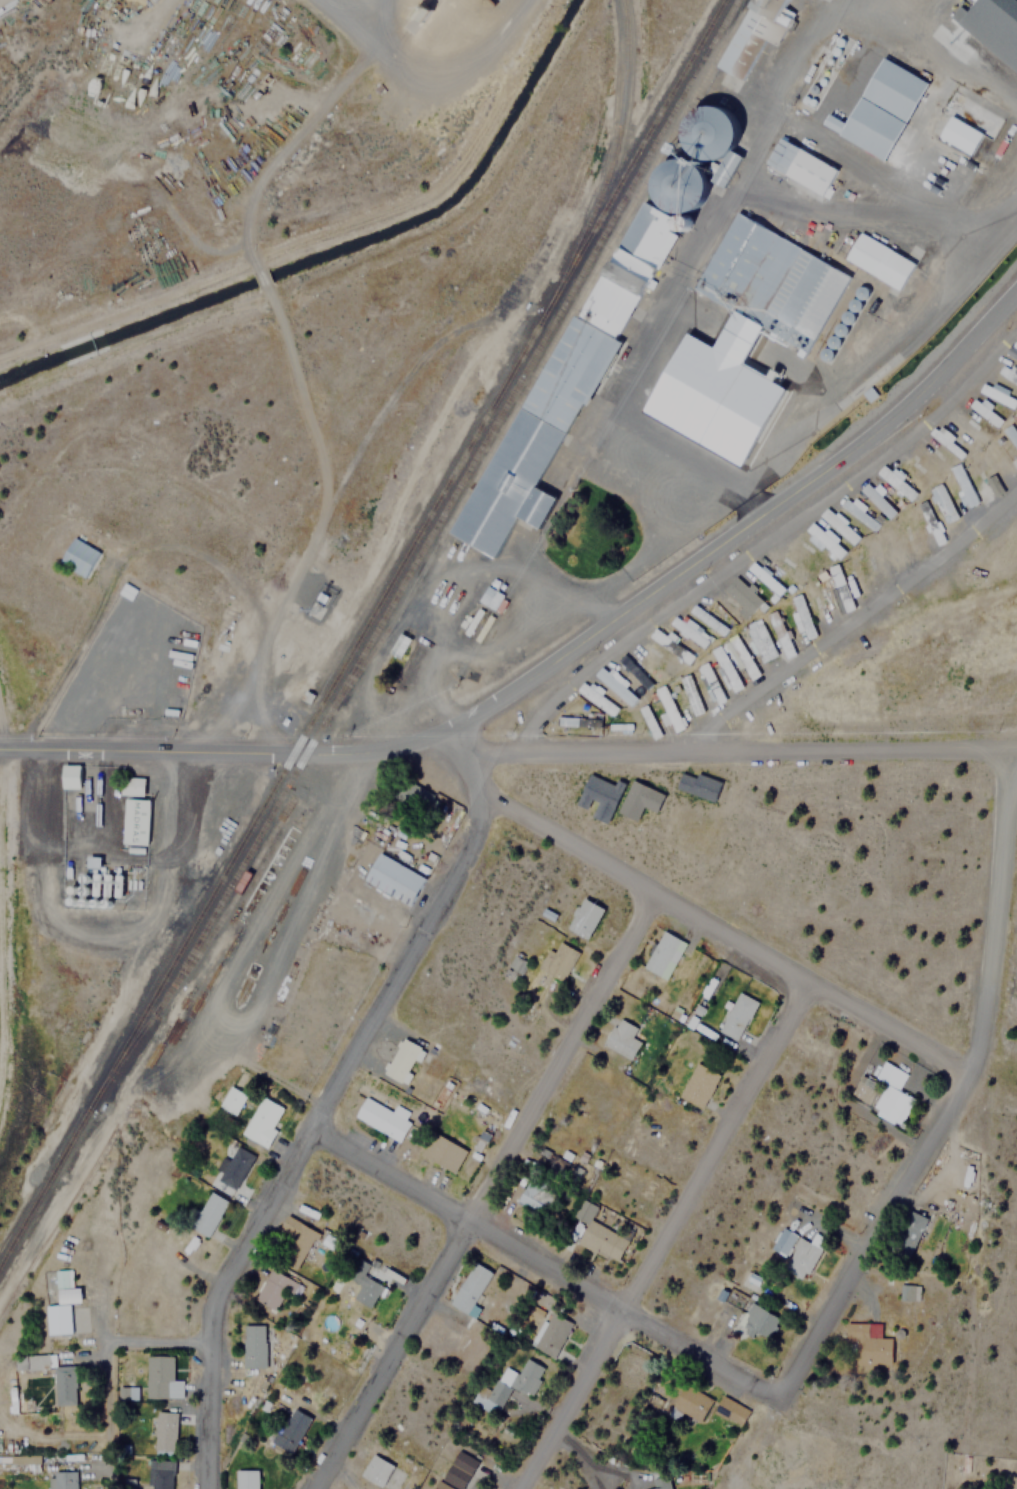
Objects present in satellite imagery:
road: (986, 23)
building: (992, 26)
building: (755, 33)
building: (880, 108)
road: (778, 115)
building: (959, 134)
railway: (607, 157)
building: (800, 165)
road: (867, 216)
railway: (599, 236)
building: (878, 261)
building: (757, 318)
building: (1013, 349)
railway: (540, 358)
building: (579, 358)
building: (1016, 361)
building: (1008, 374)
building: (870, 393)
building: (997, 394)
building: (984, 412)
building: (964, 426)
building: (946, 441)
building: (928, 455)
building: (997, 455)
road: (579, 458)
building: (915, 471)
building: (986, 472)
building: (909, 492)
building: (879, 500)
building: (944, 502)
building: (861, 512)
building: (842, 526)
road: (739, 527)
building: (826, 542)
building: (77, 557)
building: (767, 578)
building: (841, 591)
building: (489, 597)
building: (314, 607)
building: (802, 616)
building: (707, 619)
building: (776, 625)
railway: (360, 631)
building: (759, 640)
building: (398, 645)
building: (670, 645)
building: (653, 660)
building: (724, 668)
building: (633, 671)
building: (710, 682)
building: (615, 683)
building: (689, 694)
building: (597, 697)
building: (668, 709)
railway: (322, 719)
building: (648, 721)
road: (508, 740)
building: (70, 776)
building: (697, 784)
building: (131, 786)
building: (415, 794)
building: (598, 797)
building: (638, 799)
building: (134, 821)
building: (96, 862)
building: (392, 878)
railway: (178, 908)
building: (584, 918)
road: (687, 923)
building: (660, 952)
building: (558, 960)
building: (515, 969)
building: (736, 1015)
building: (621, 1038)
building: (402, 1060)
building: (698, 1085)
building: (231, 1098)
road: (946, 1098)
building: (890, 1104)
building: (381, 1118)
building: (262, 1120)
road: (305, 1131)
building: (442, 1151)
building: (233, 1167)
road: (481, 1194)
building: (532, 1195)
building: (585, 1211)
building: (208, 1213)
road: (657, 1239)
building: (604, 1241)
building: (295, 1243)
building: (797, 1251)
road: (532, 1255)
building: (55, 1282)
building: (470, 1287)
building: (368, 1288)
building: (273, 1289)
building: (906, 1292)
building: (71, 1296)
building: (57, 1318)
building: (757, 1320)
building: (550, 1333)
building: (867, 1343)
building: (252, 1345)
building: (13, 1362)
building: (35, 1362)
building: (528, 1377)
building: (159, 1378)
building: (64, 1384)
building: (696, 1407)
building: (730, 1410)
building: (289, 1429)
building: (163, 1431)
building: (23, 1462)
building: (375, 1470)
building: (458, 1471)
building: (158, 1474)
building: (245, 1479)
building: (63, 1480)
building: (659, 1480)

